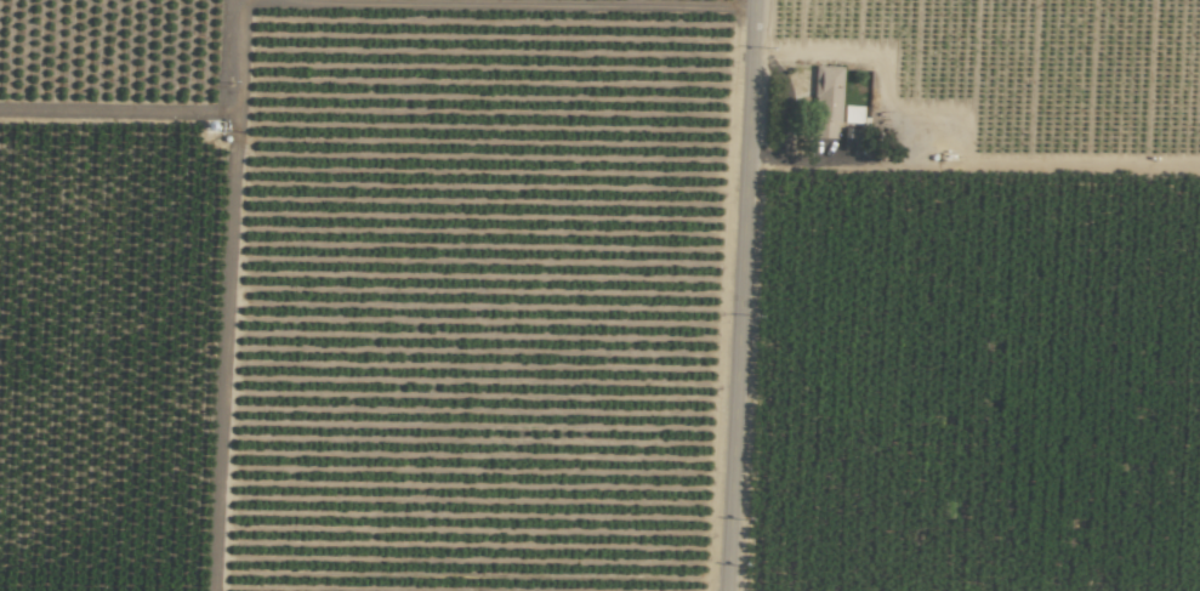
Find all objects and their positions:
building: (826, 98)
building: (851, 114)
road: (737, 295)

